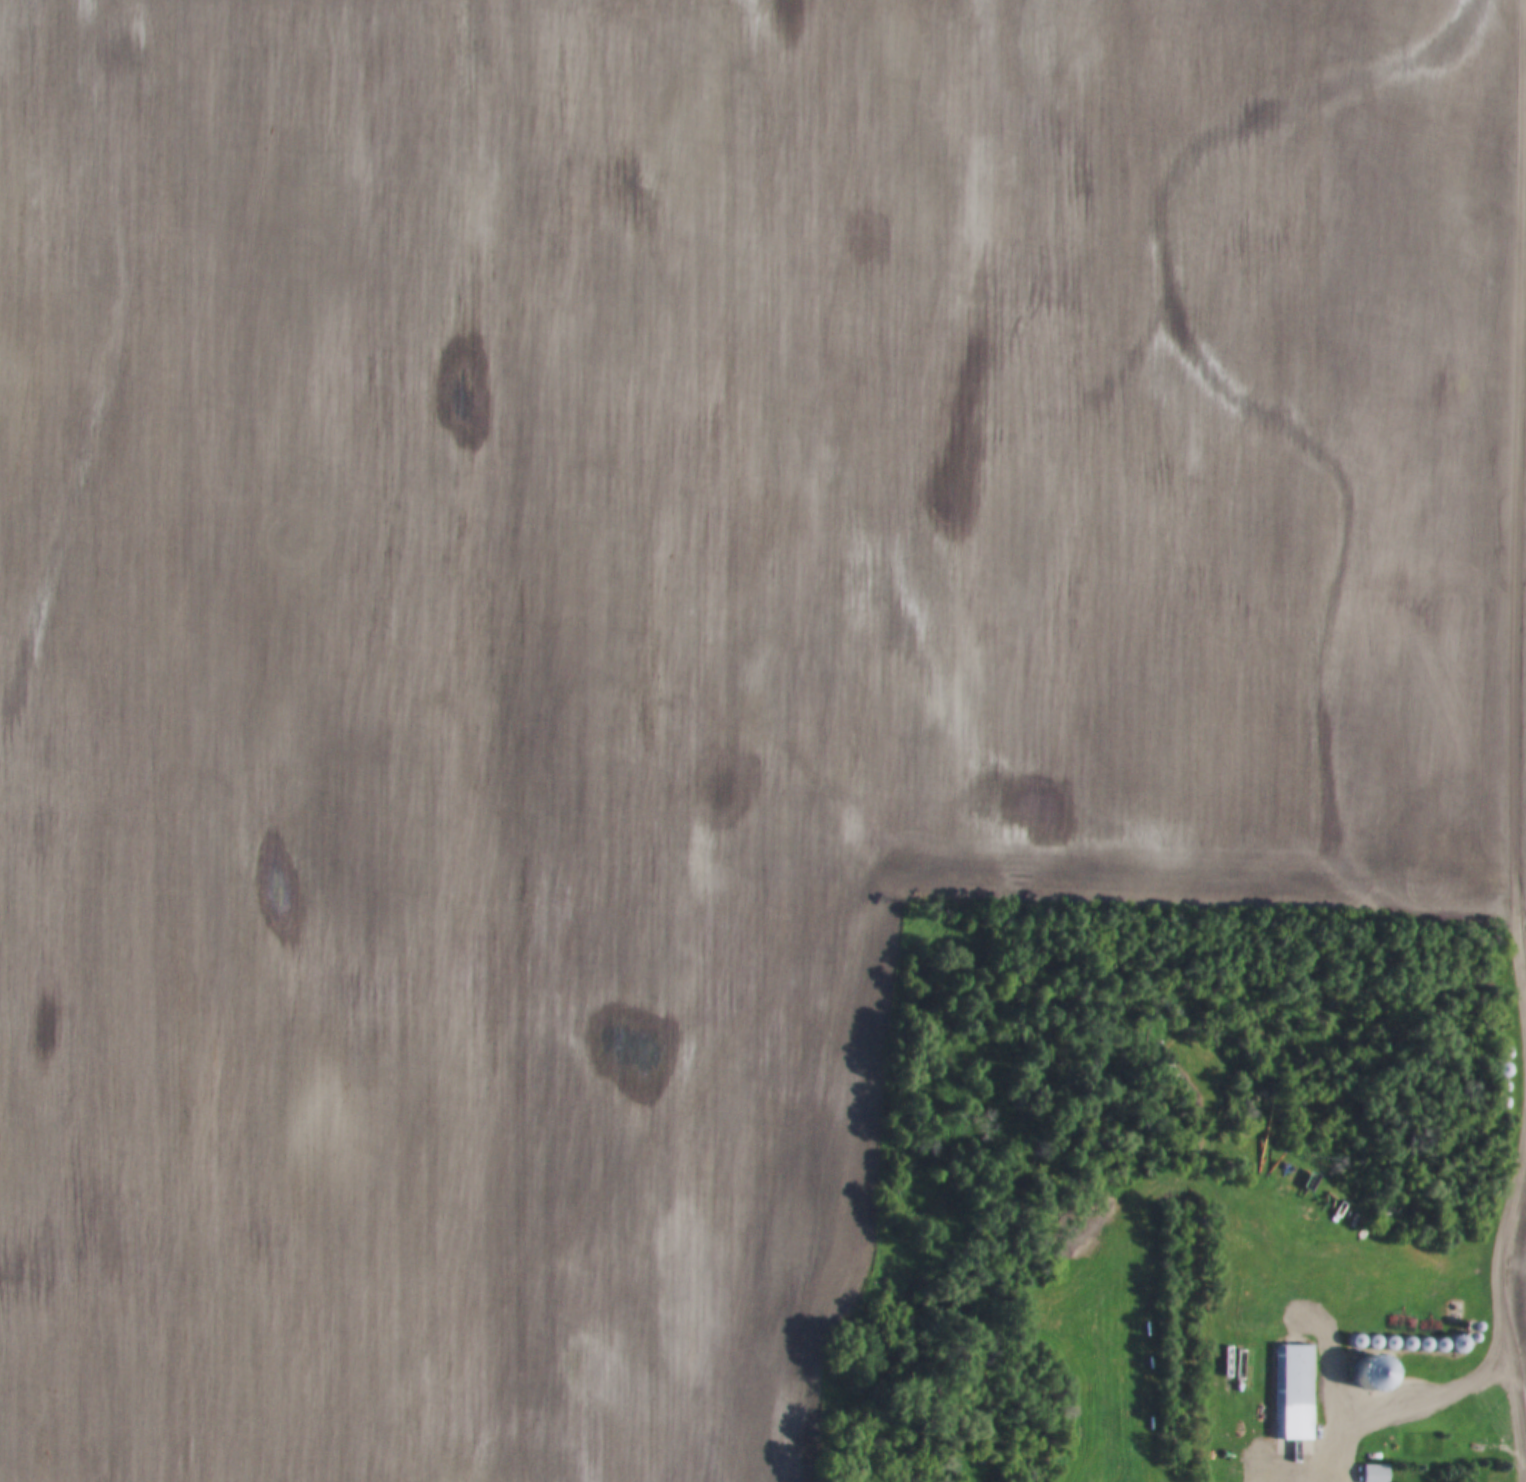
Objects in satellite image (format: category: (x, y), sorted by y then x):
road: (1519, 631)
building: (1507, 1053)
silo: (1507, 1053)
building: (1506, 1070)
silo: (1506, 1070)
building: (1503, 1087)
silo: (1503, 1087)
building: (1503, 1104)
silo: (1503, 1104)
road: (1505, 1277)
building: (1481, 1327)
silo: (1481, 1327)
building: (1129, 1329)
building: (1478, 1338)
silo: (1478, 1338)
building: (1360, 1341)
silo: (1360, 1341)
building: (1376, 1342)
silo: (1376, 1342)
building: (1394, 1343)
silo: (1394, 1343)
building: (1411, 1344)
silo: (1411, 1344)
building: (1428, 1344)
silo: (1428, 1344)
building: (1463, 1344)
silo: (1463, 1344)
building: (1444, 1345)
silo: (1444, 1345)
building: (1293, 1393)
road: (1387, 1414)
building: (1375, 1474)

